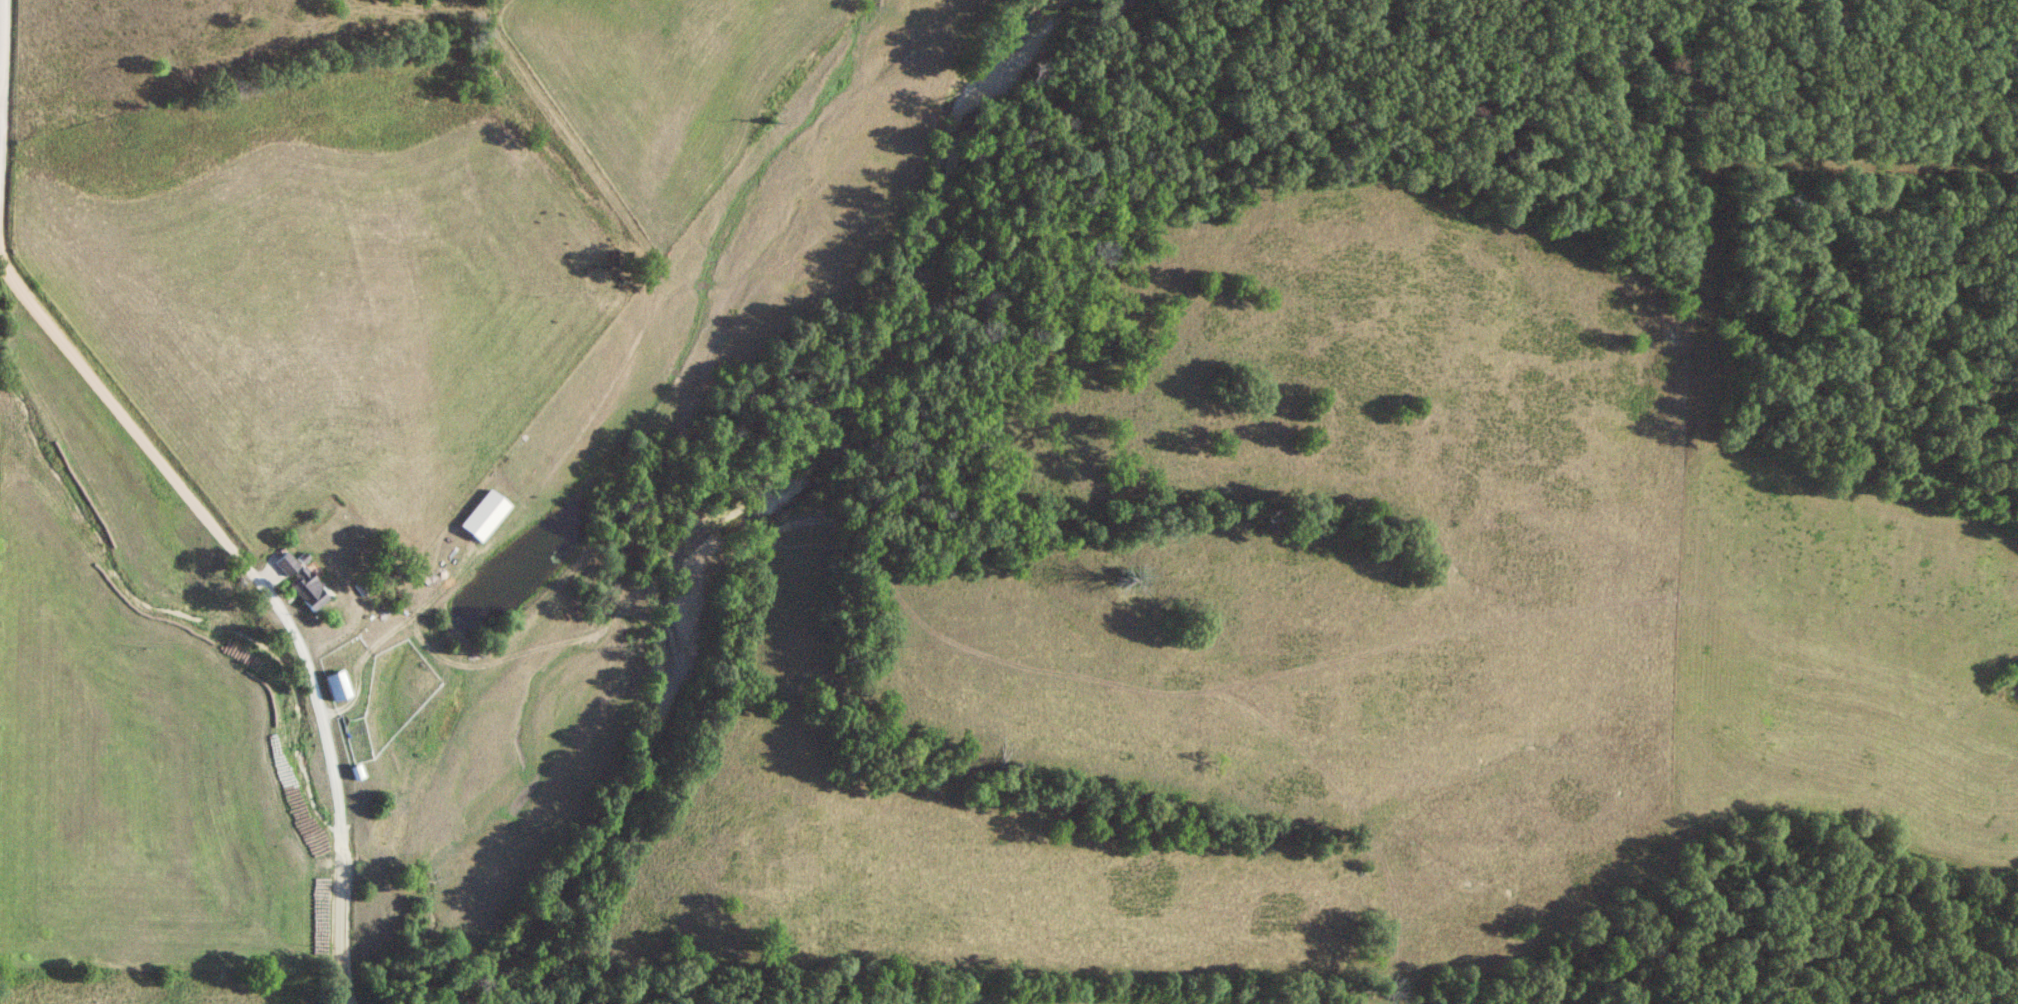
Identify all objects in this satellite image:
road: (3, 49)
road: (1, 98)
building: (488, 516)
road: (219, 530)
building: (304, 582)
road: (394, 629)
building: (341, 686)

